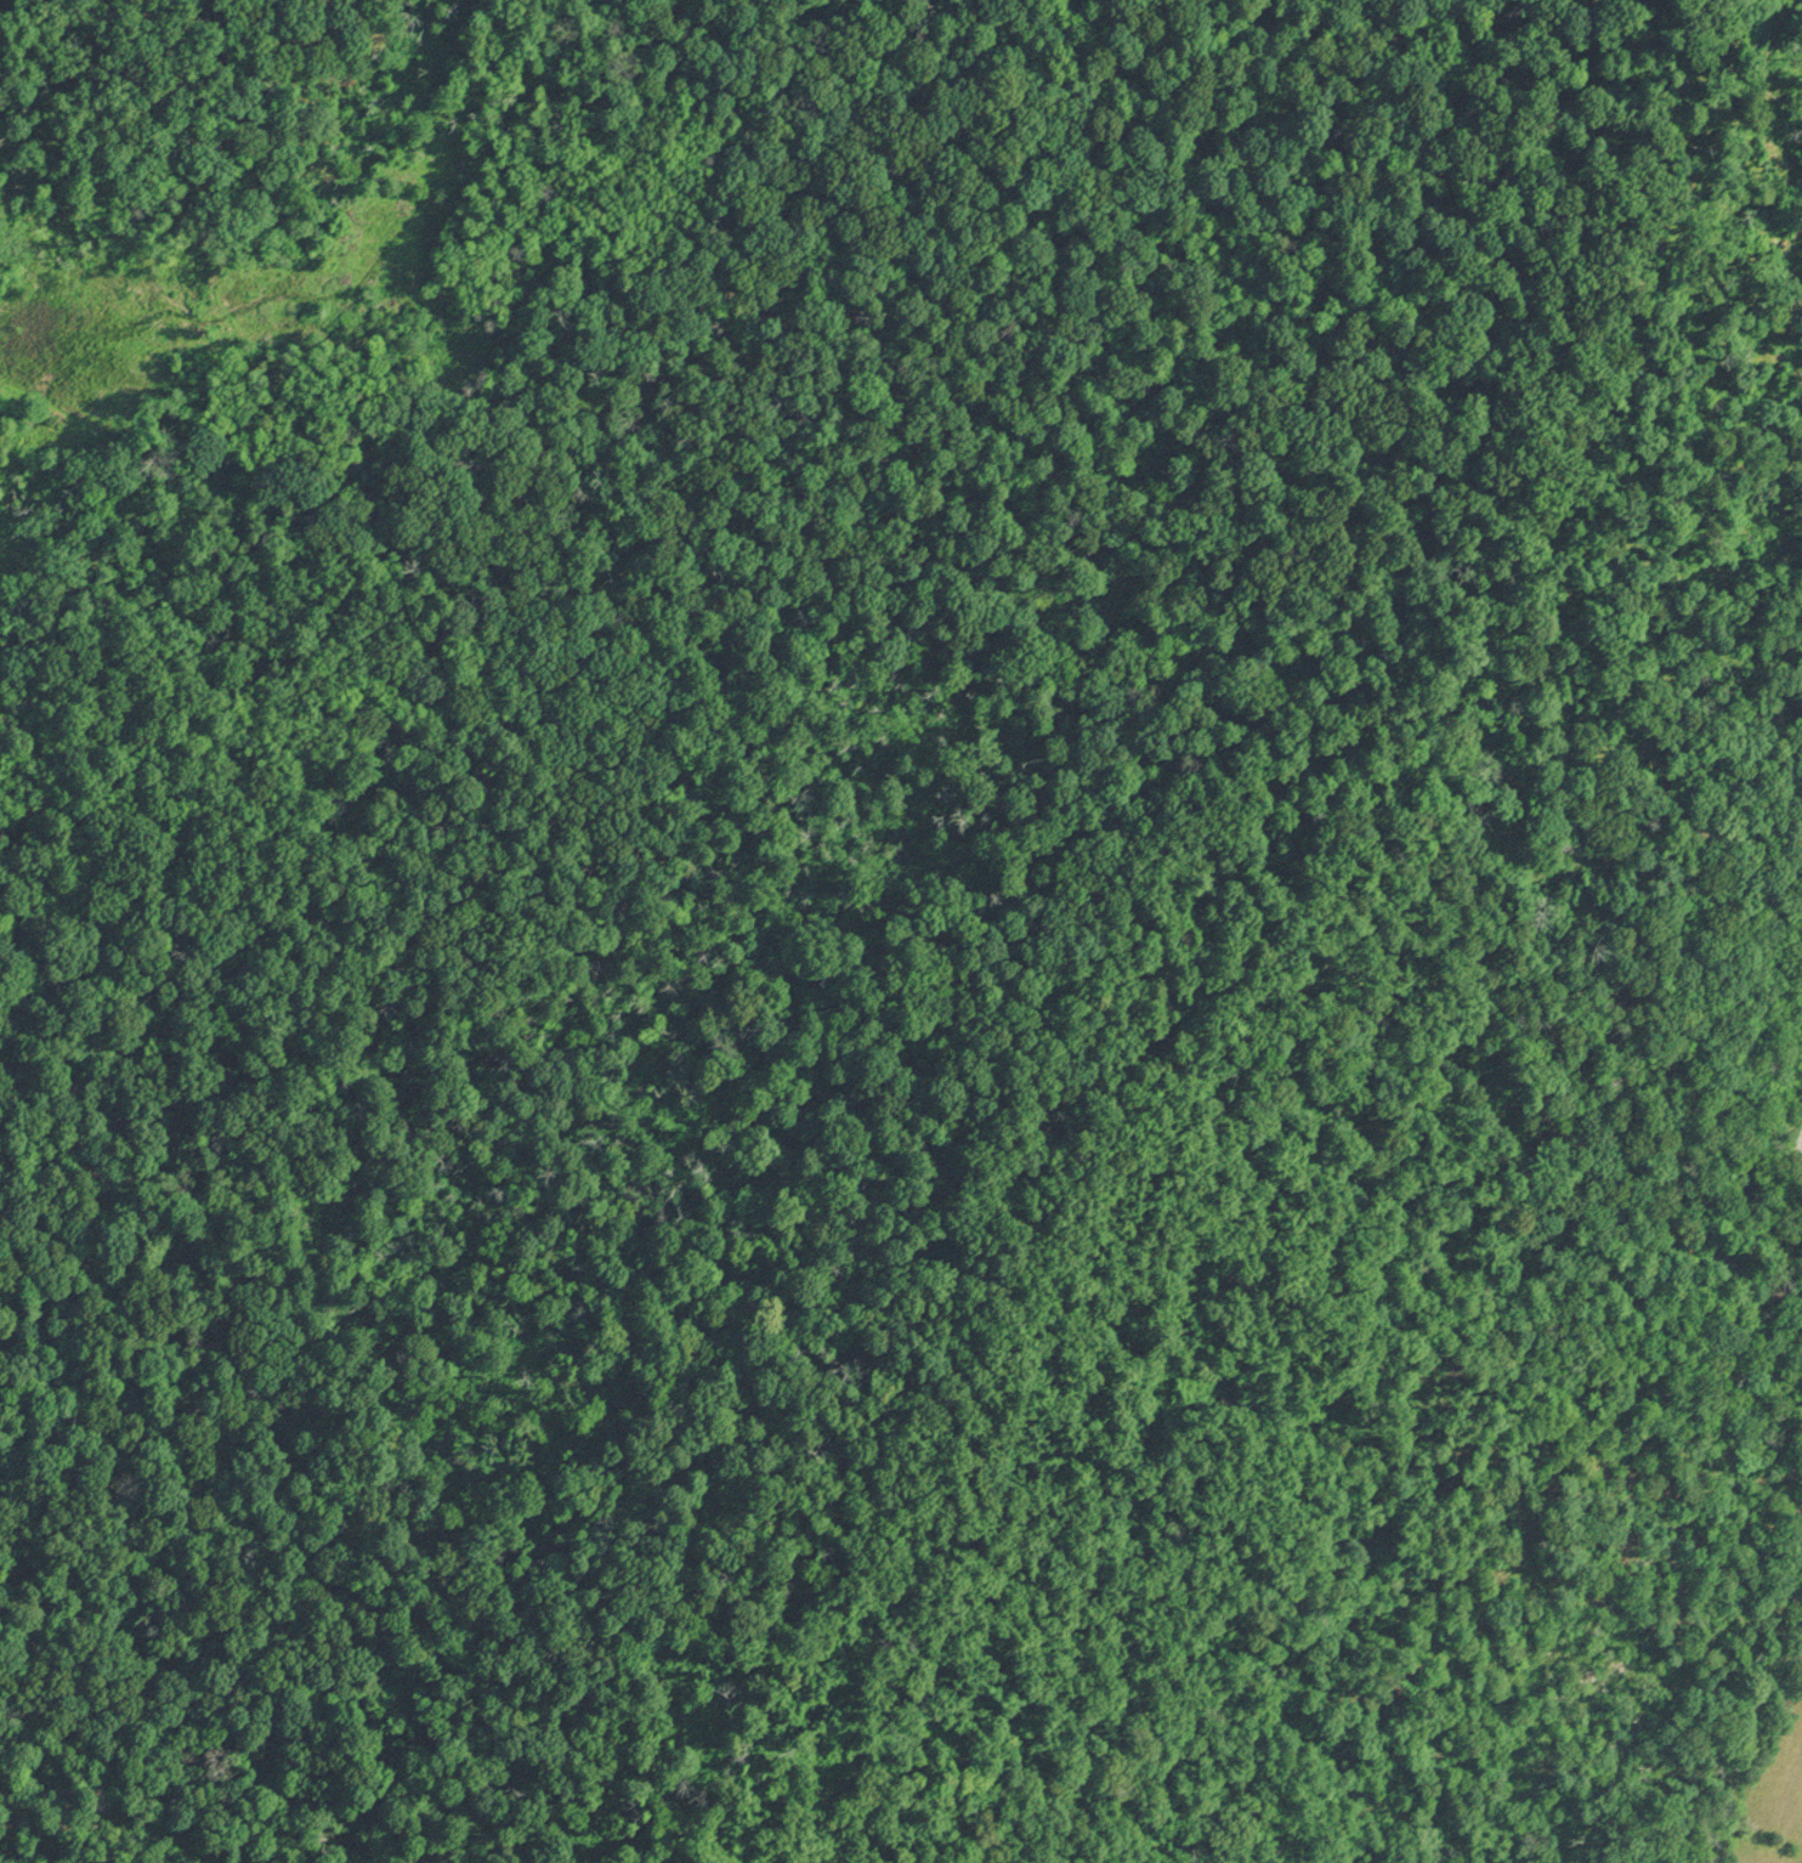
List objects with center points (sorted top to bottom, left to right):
building: (1797, 1140)

